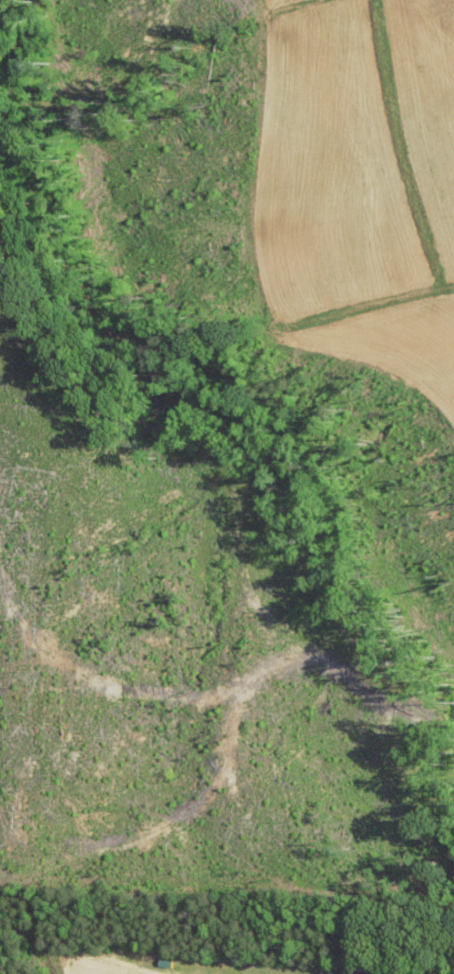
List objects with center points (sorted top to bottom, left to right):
building: (328, 973)

